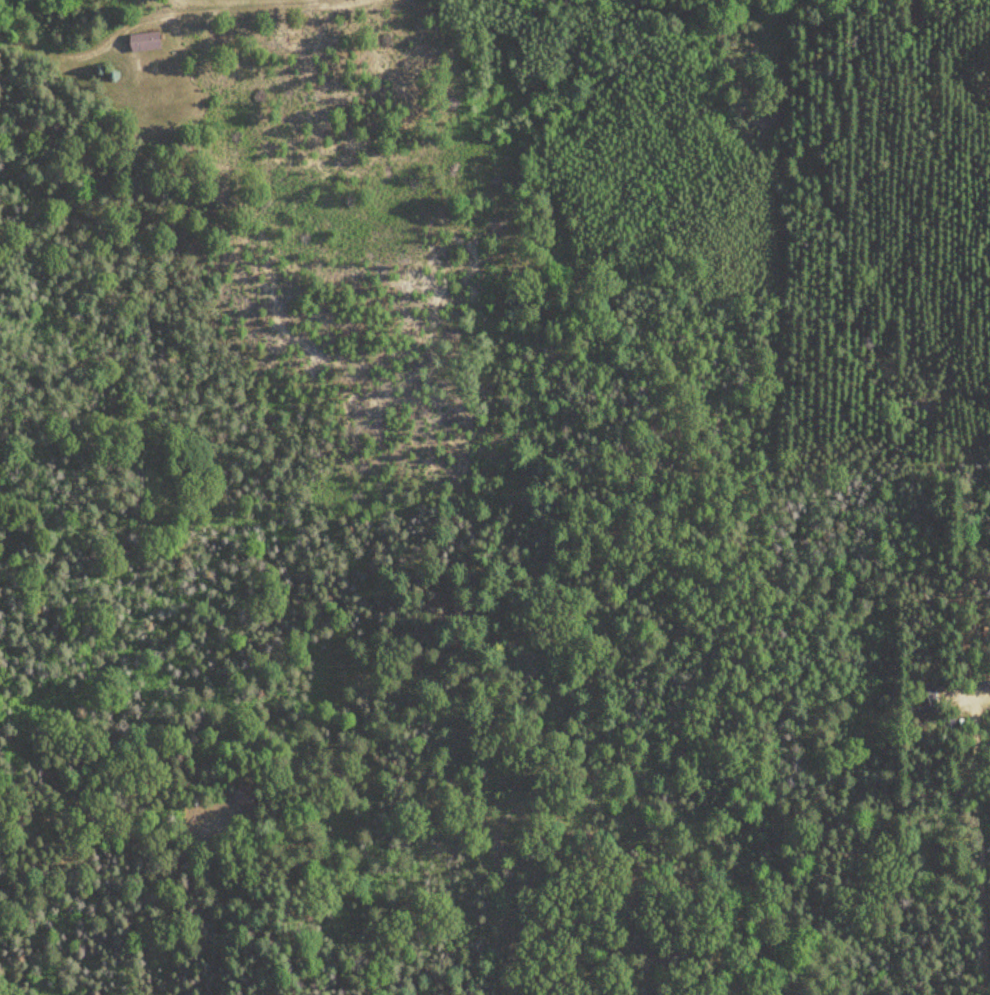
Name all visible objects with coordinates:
building: (140, 41)
building: (926, 702)
building: (240, 795)

